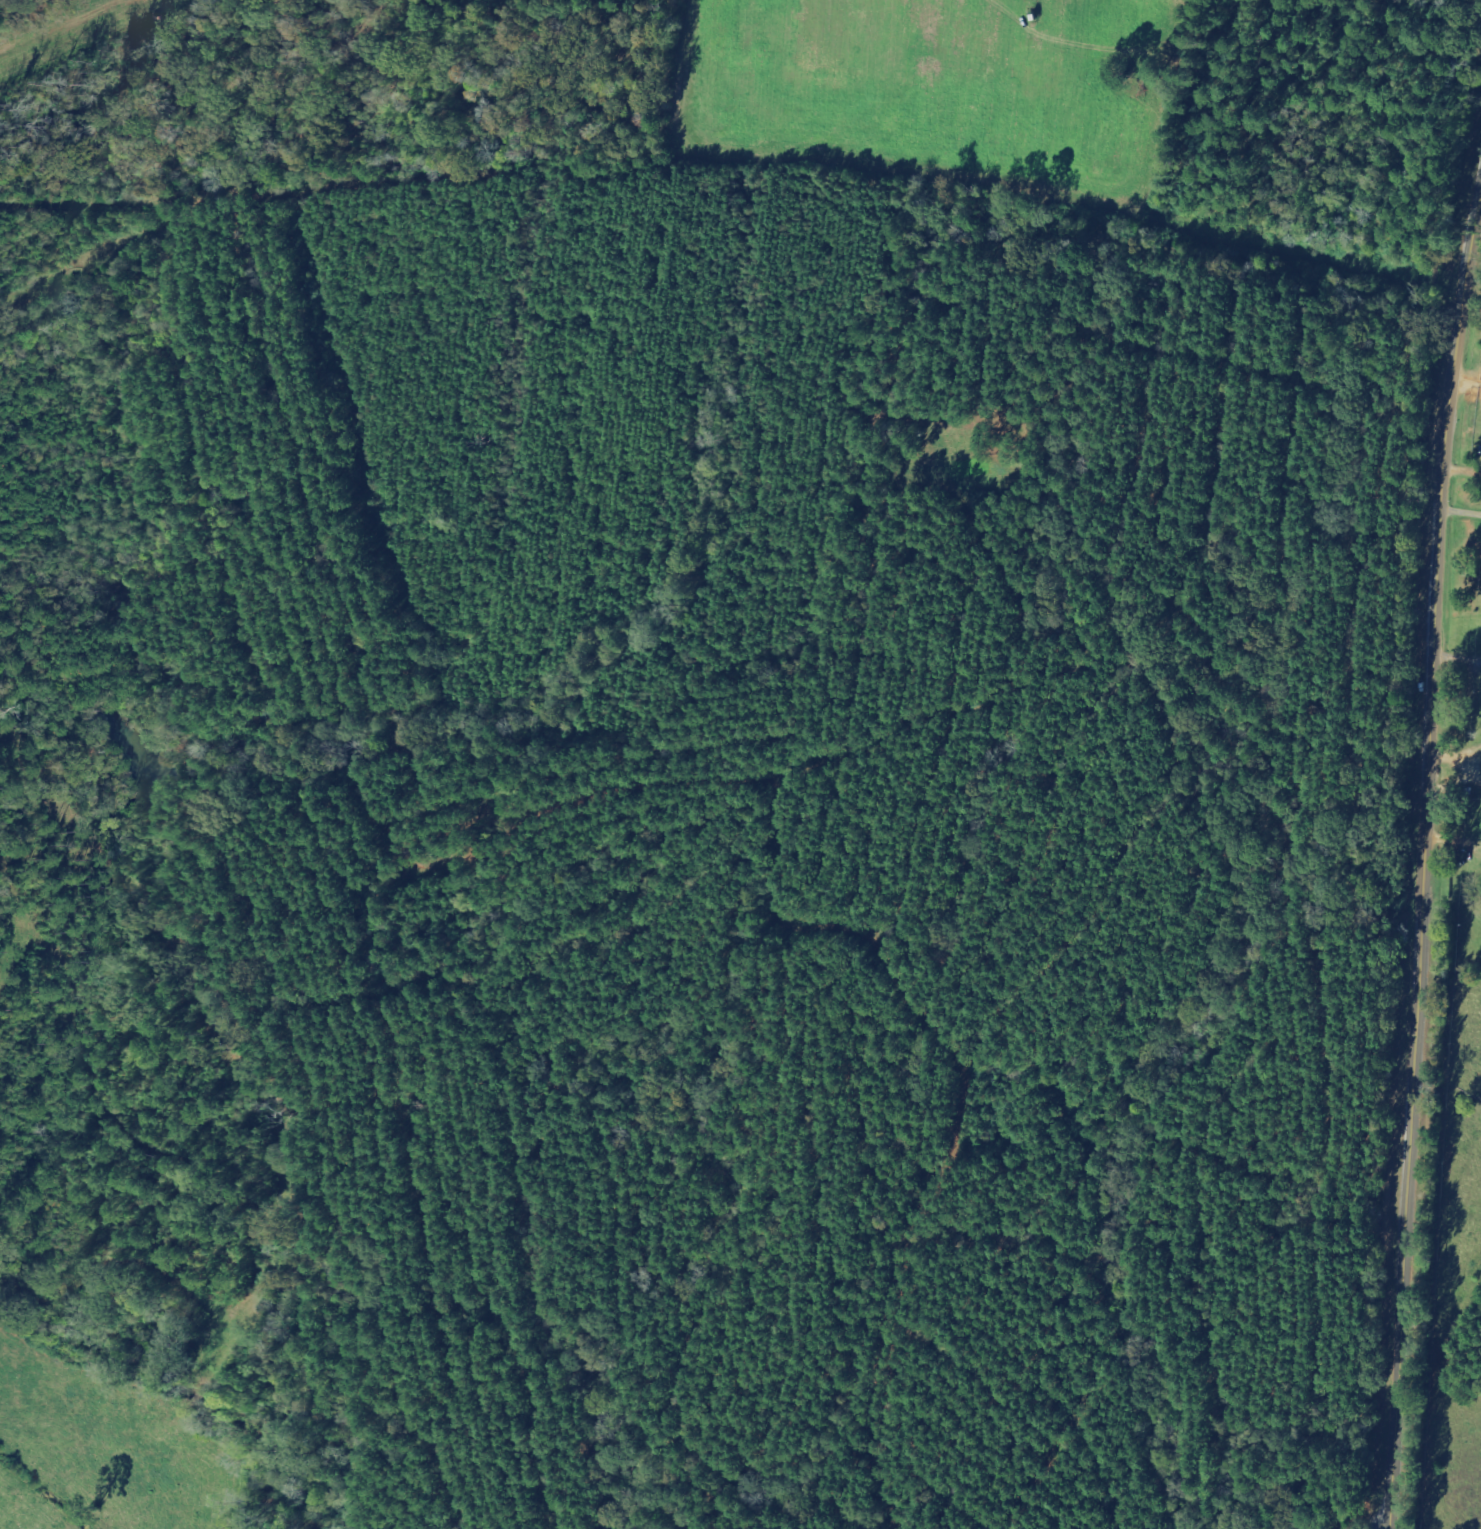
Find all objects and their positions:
road: (1459, 590)
road: (1424, 849)

